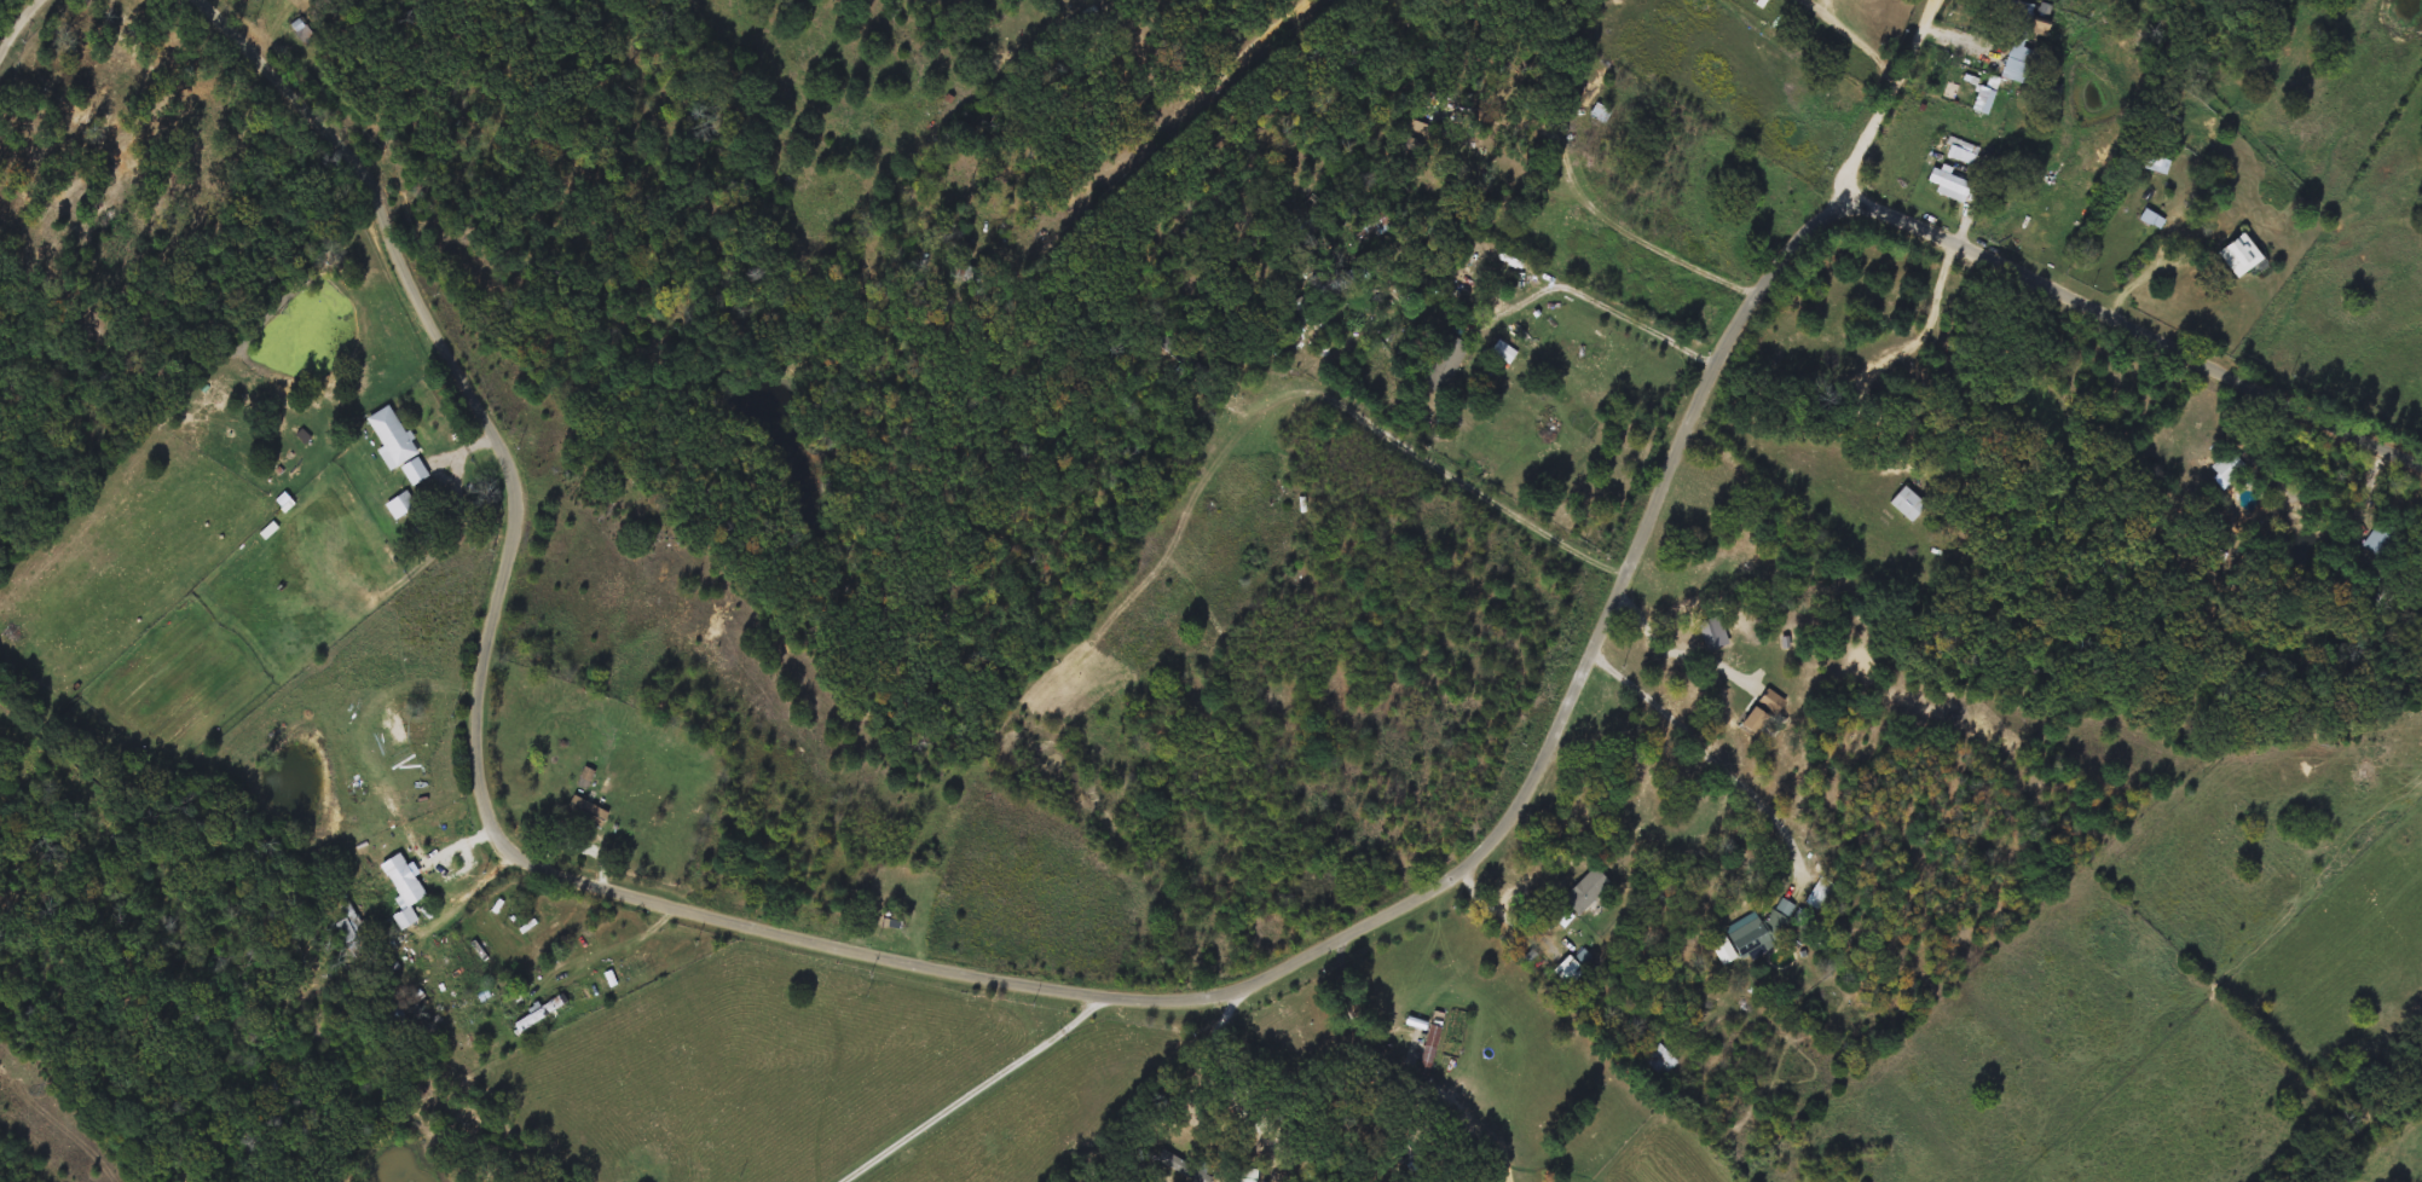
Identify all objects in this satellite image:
building: (1076, 17)
road: (18, 28)
road: (270, 30)
building: (301, 30)
road: (1852, 36)
road: (1958, 36)
building: (2017, 40)
road: (168, 48)
building: (106, 60)
building: (1983, 99)
road: (1183, 102)
road: (1883, 103)
building: (1599, 111)
building: (204, 145)
building: (2155, 162)
building: (1949, 184)
building: (2151, 218)
road: (1657, 248)
building: (2239, 255)
building: (966, 272)
building: (1345, 277)
road: (2134, 288)
road: (1601, 305)
building: (1445, 363)
building: (391, 435)
road: (1434, 464)
building: (2229, 465)
building: (1907, 503)
building: (399, 504)
building: (2382, 539)
building: (1711, 632)
building: (1701, 642)
road: (1675, 650)
road: (1703, 752)
building: (585, 810)
road: (590, 833)
building: (1817, 891)
road: (464, 897)
road: (1502, 912)
building: (352, 923)
building: (1767, 927)
building: (1573, 964)
road: (1213, 993)
building: (539, 1010)
road: (1355, 1016)
road: (1222, 1053)
building: (1659, 1059)
road: (983, 1090)
building: (1233, 1138)
building: (1248, 1174)

